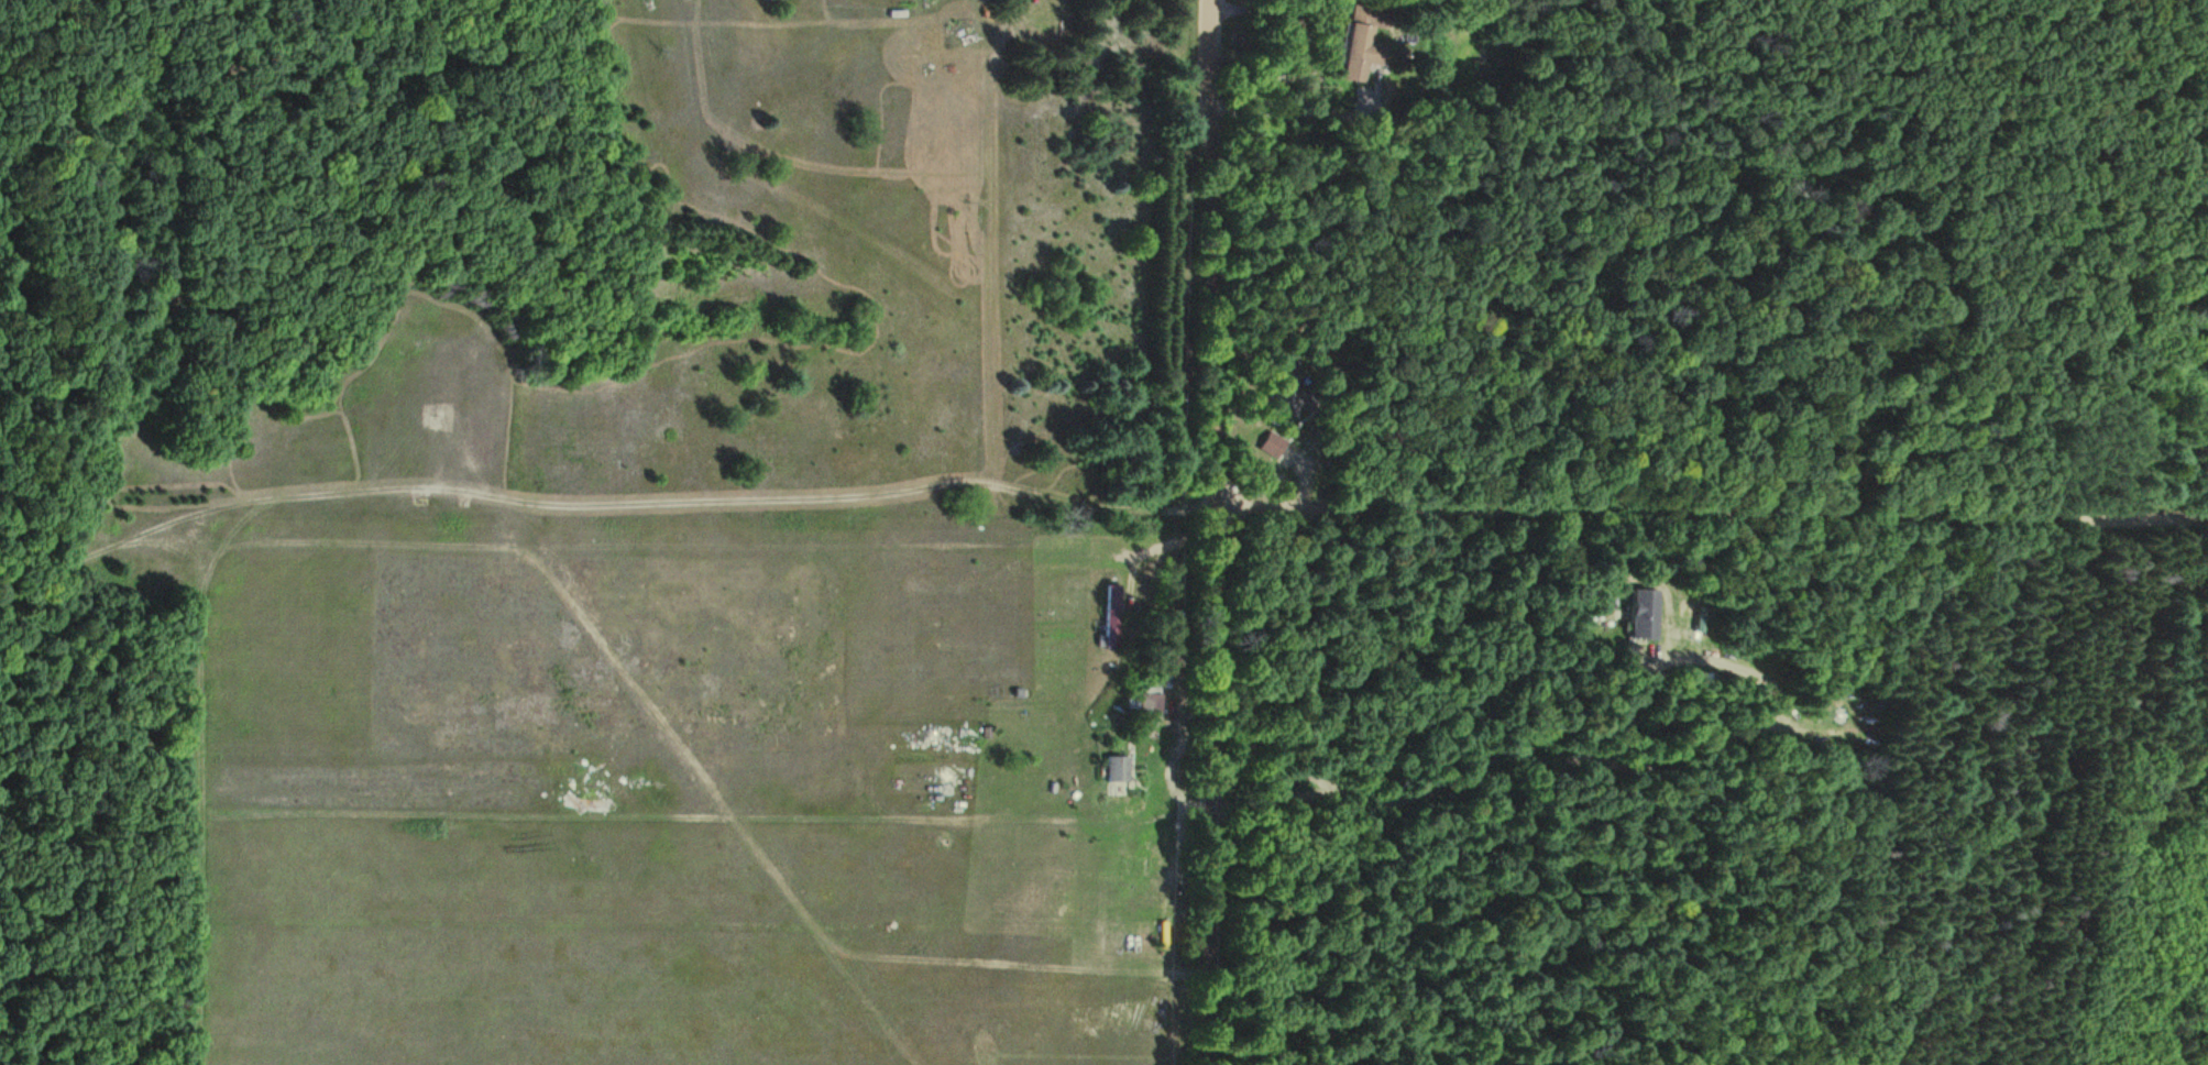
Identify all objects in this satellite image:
building: (1352, 51)
road: (1712, 512)
road: (1217, 531)
building: (1644, 614)
building: (1113, 616)
building: (1149, 699)
building: (1116, 769)

